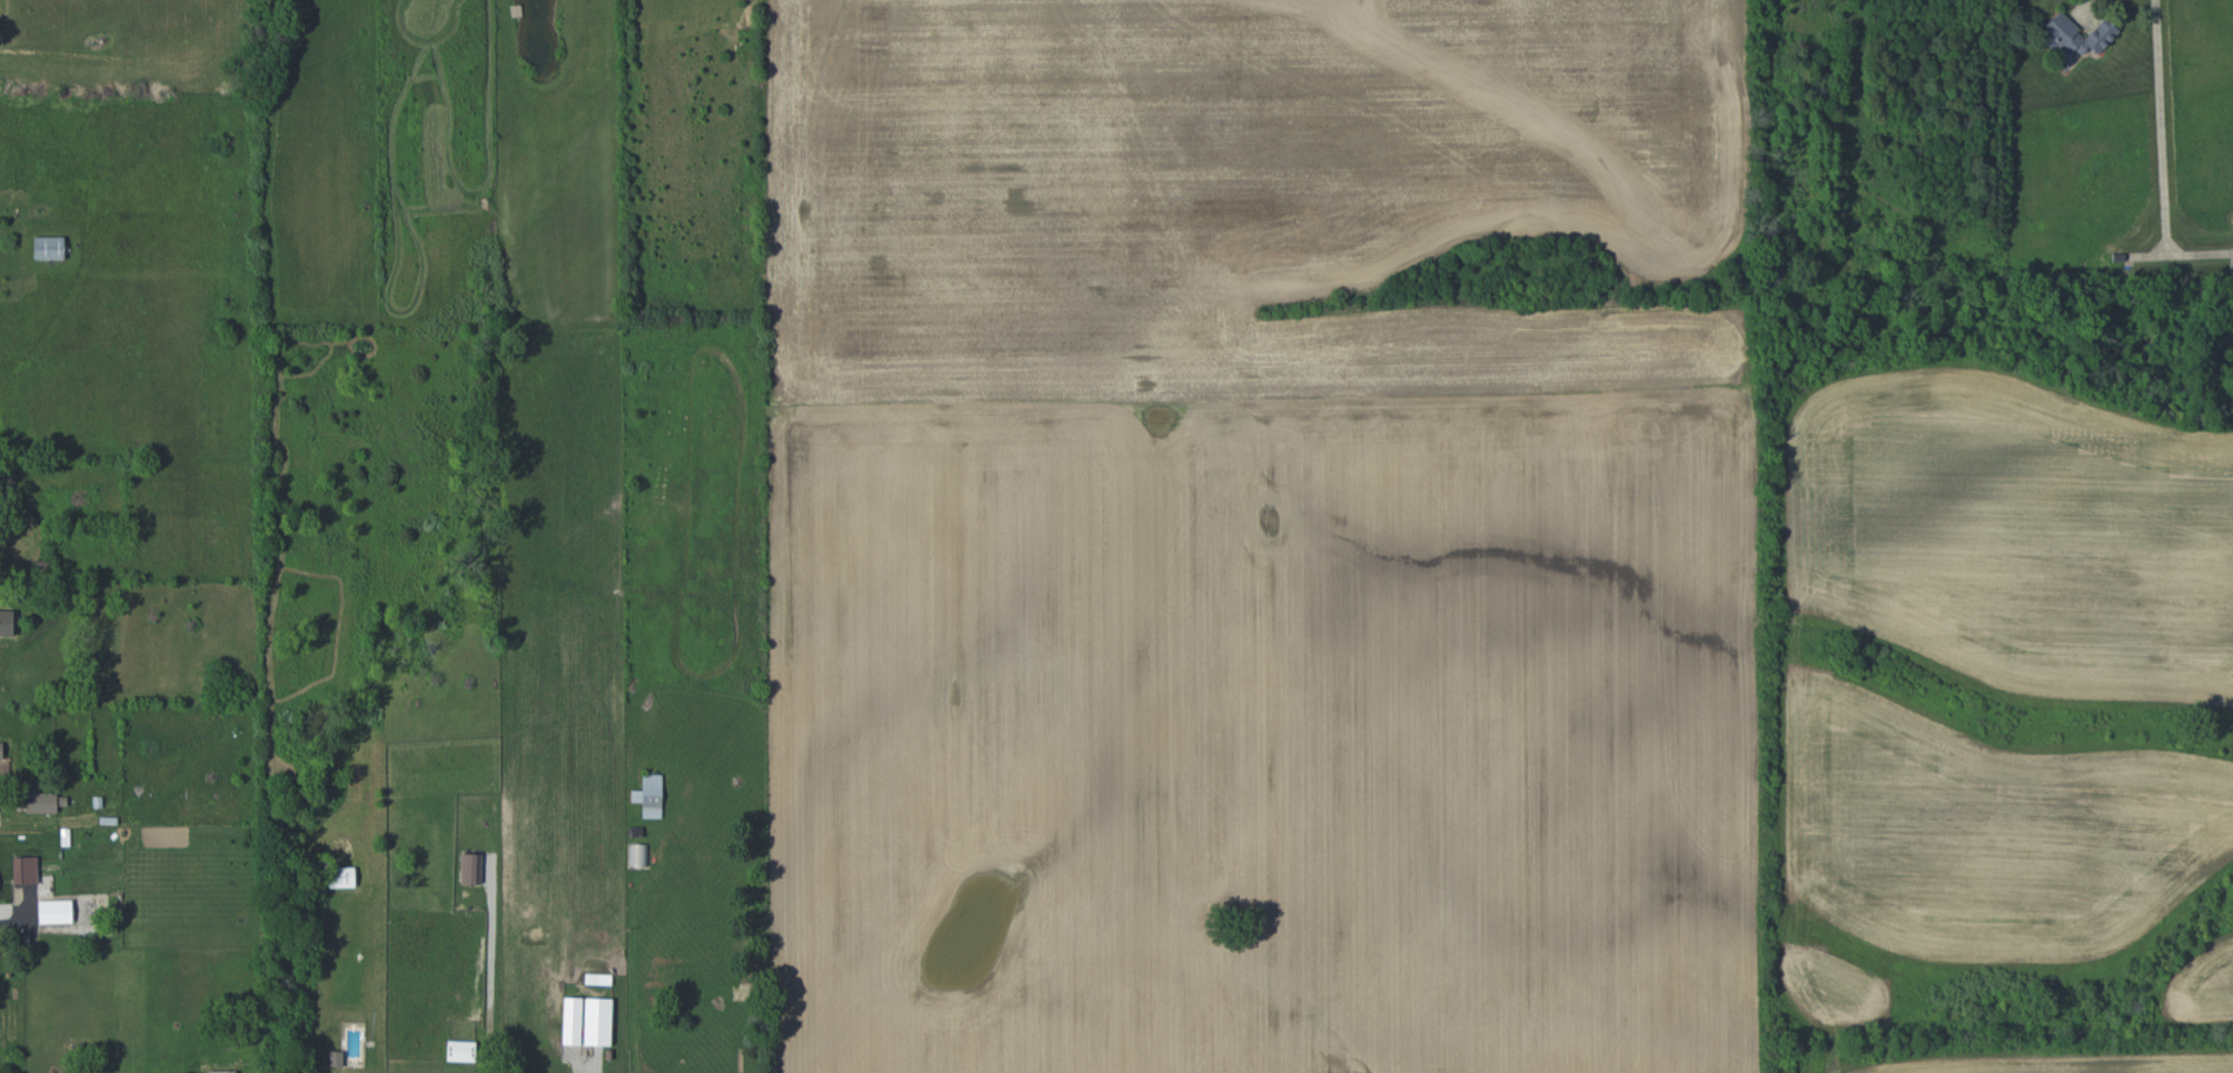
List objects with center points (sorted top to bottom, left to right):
building: (2075, 34)
road: (2160, 128)
building: (48, 248)
building: (1, 751)
building: (649, 795)
building: (40, 802)
building: (470, 868)
building: (24, 870)
building: (54, 912)
building: (572, 1021)
building: (597, 1021)
building: (460, 1051)
building: (335, 1059)
building: (222, 1072)

